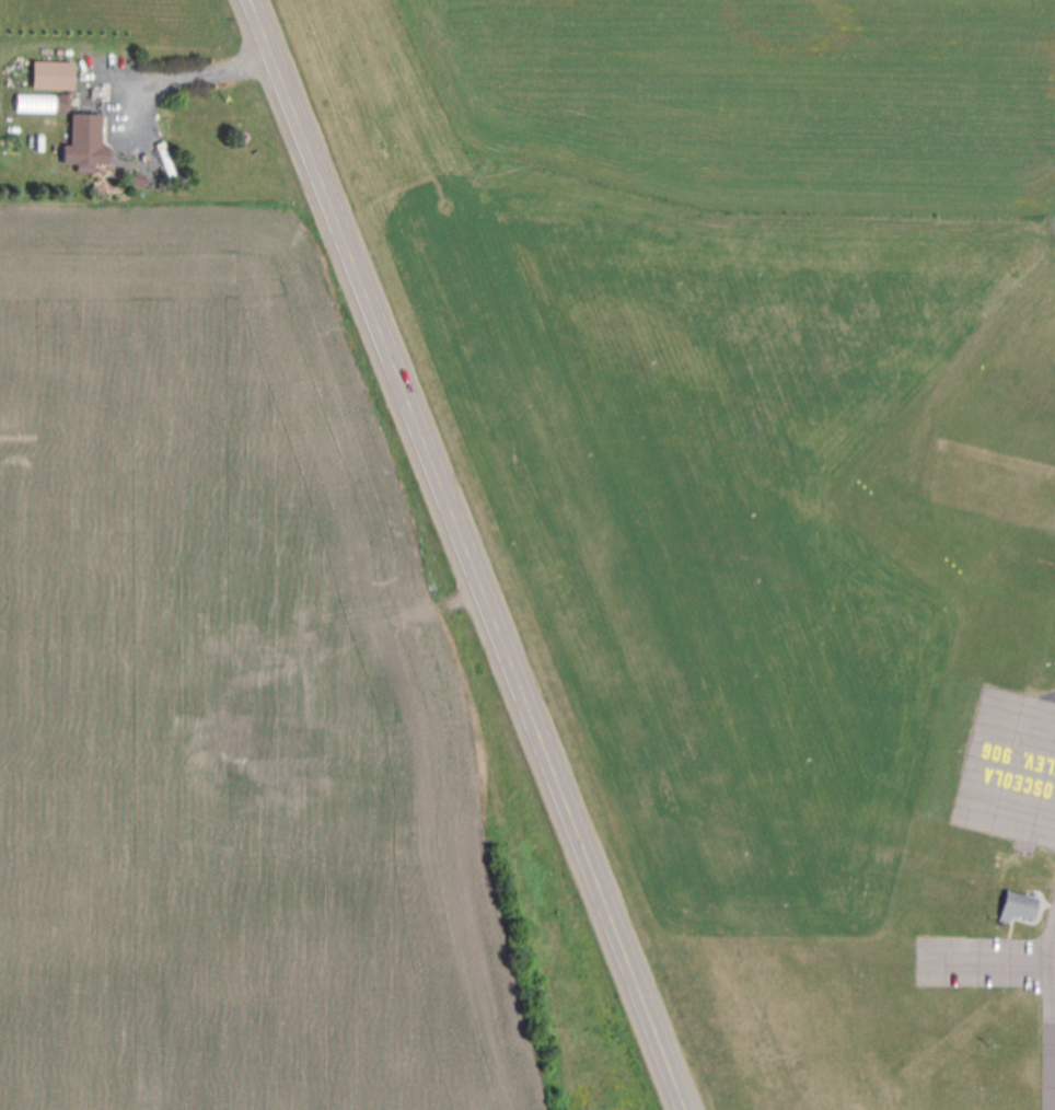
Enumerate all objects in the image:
crop: (702, 95)
airport runway: (997, 451)
road: (471, 554)
airport: (770, 599)
crop: (256, 706)
airport taxiway: (1032, 743)
airport apron: (1011, 767)
airport taxiway: (1052, 971)

